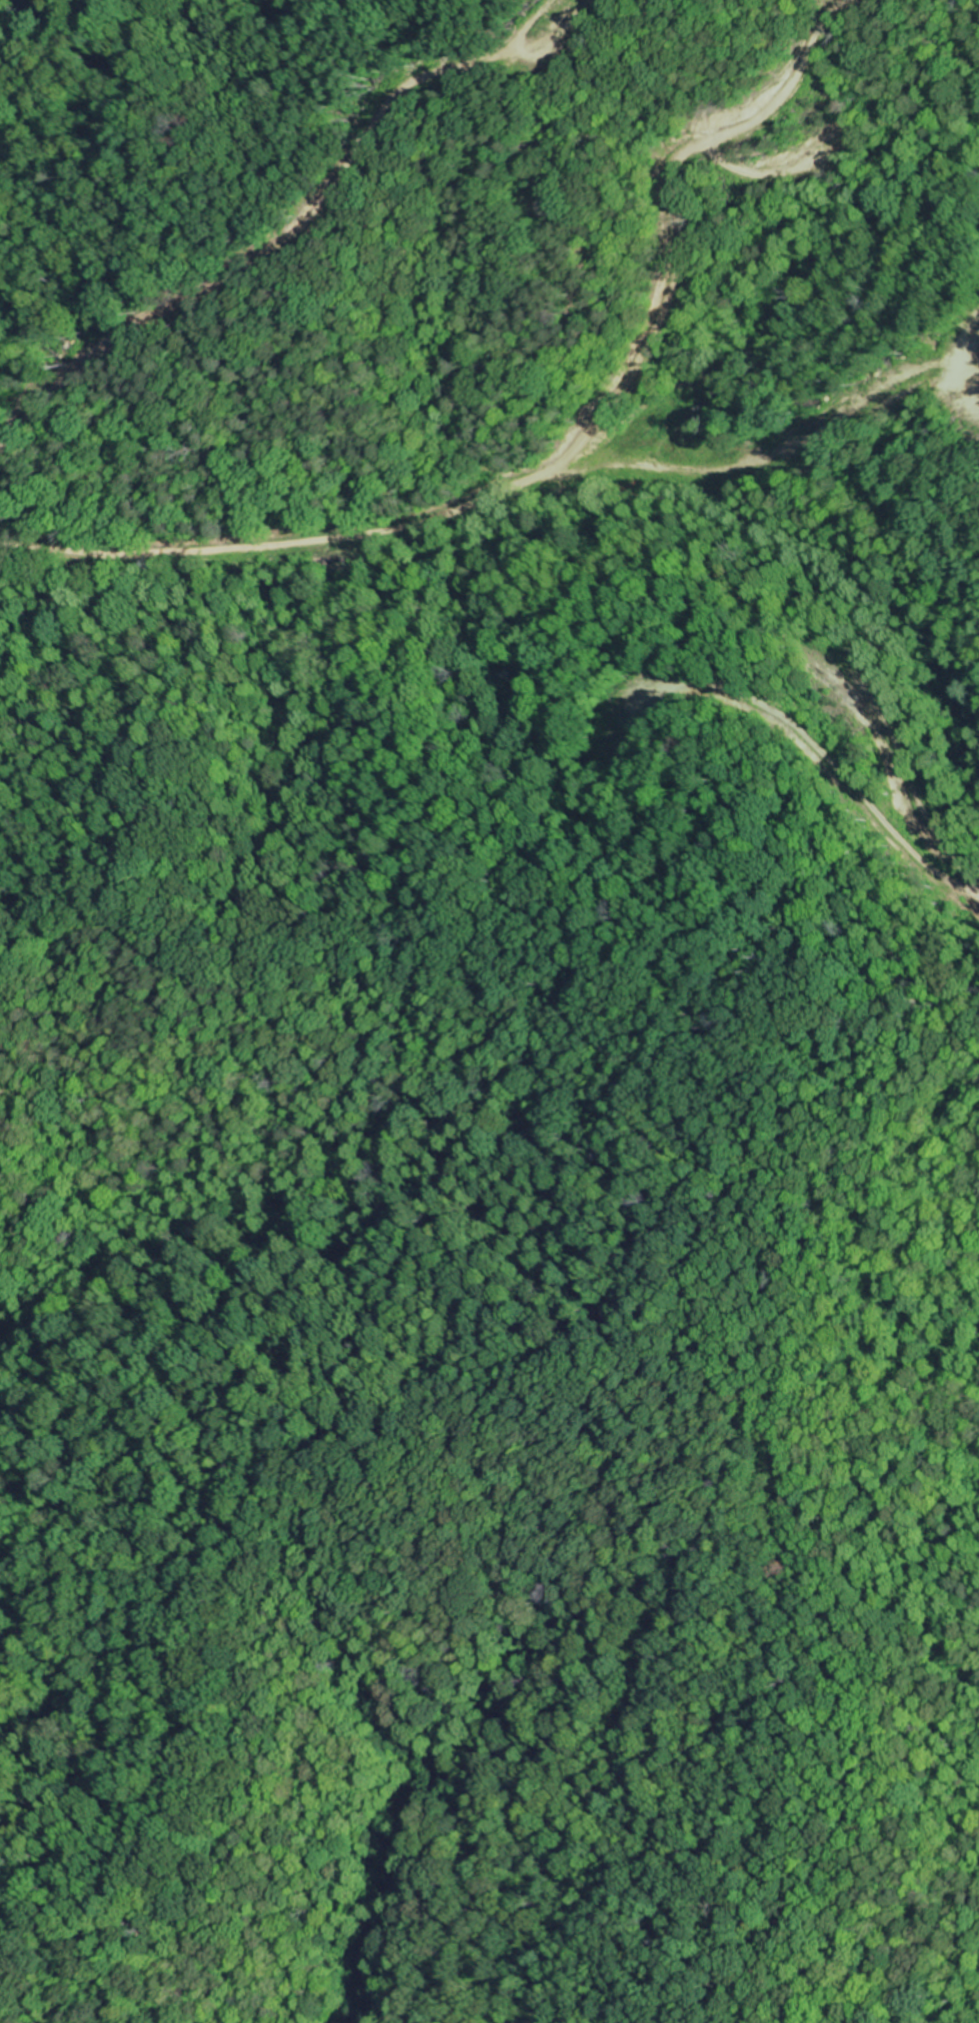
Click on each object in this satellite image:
road: (129, 552)

